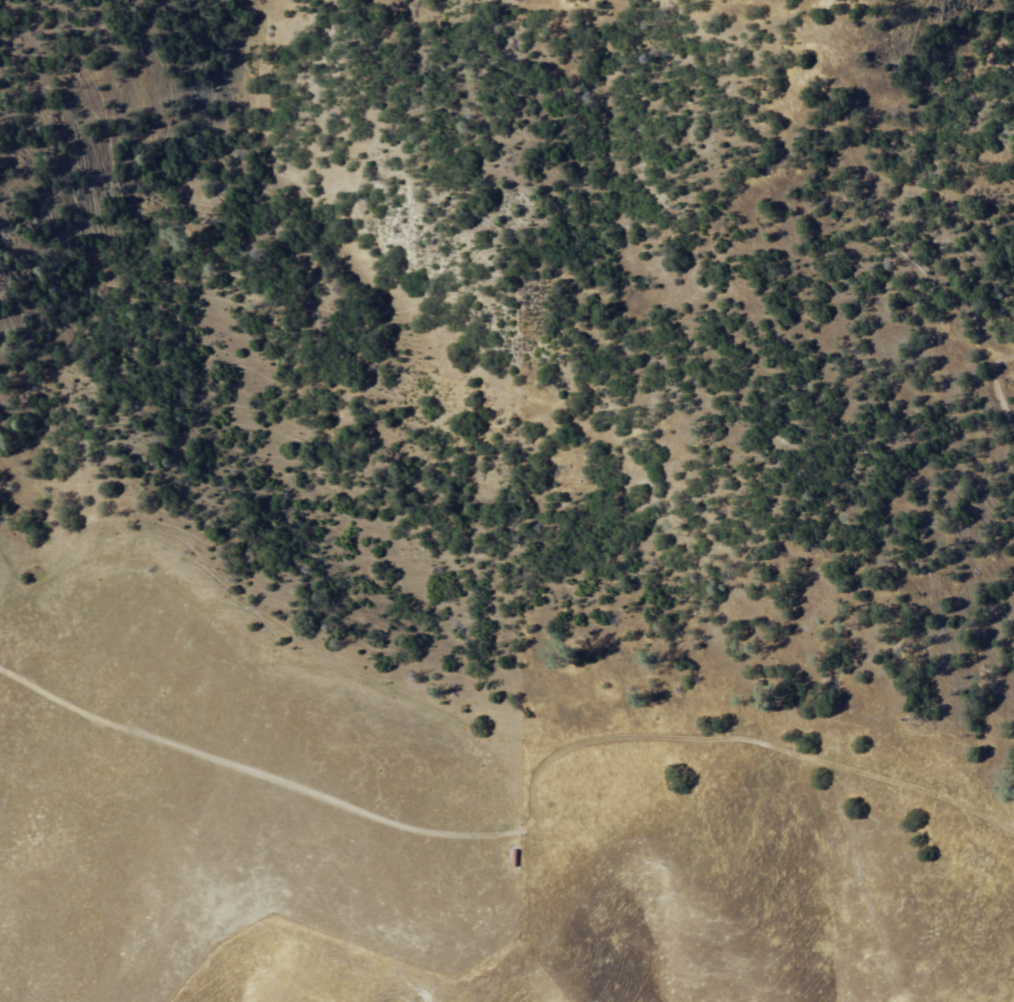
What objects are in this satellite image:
road: (997, 395)
road: (749, 739)

